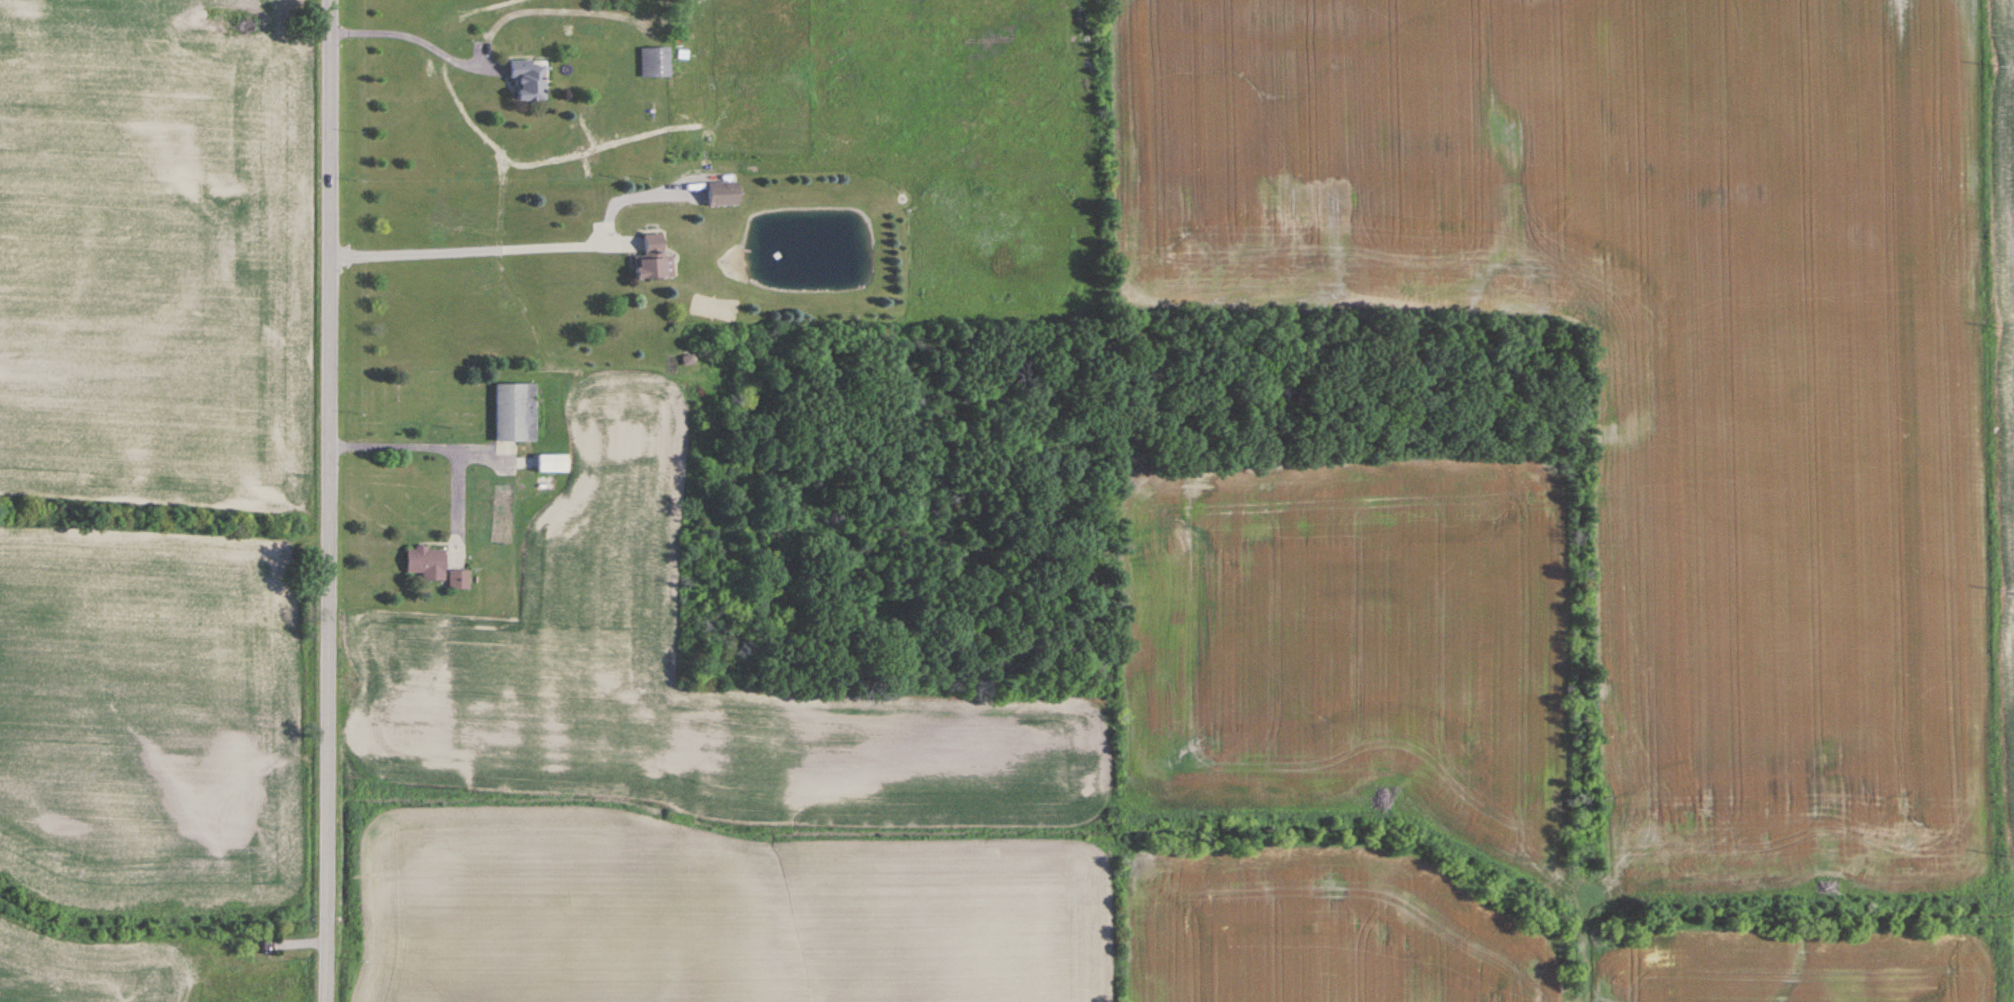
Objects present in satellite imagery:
road: (395, 31)
building: (653, 63)
building: (527, 80)
building: (722, 194)
road: (457, 249)
building: (650, 260)
building: (515, 413)
road: (432, 441)
building: (552, 464)
road: (328, 500)
building: (426, 564)
building: (458, 581)

